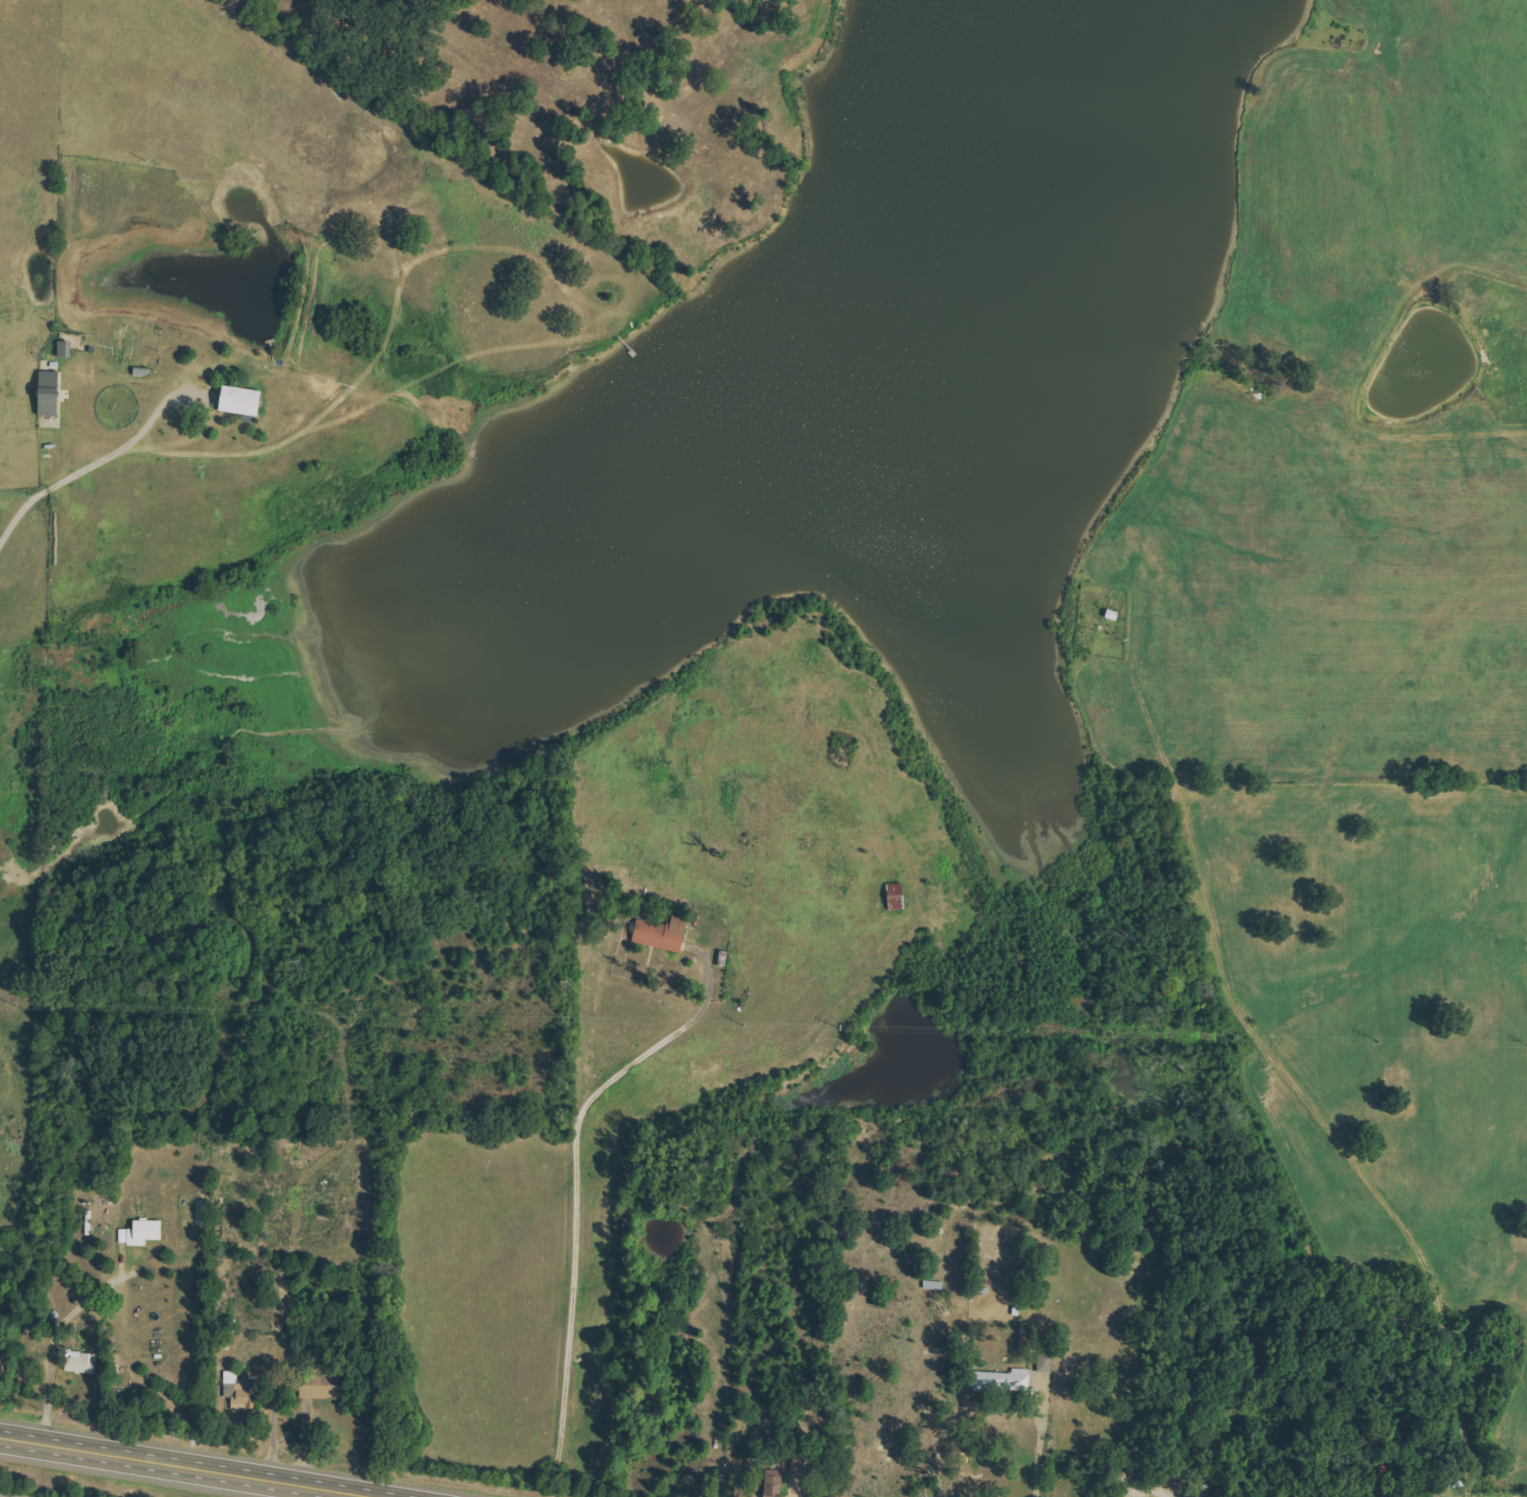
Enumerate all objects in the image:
power tower: (225, 1)
power tower: (137, 162)
power tower: (49, 326)
building: (52, 394)
building: (244, 401)
road: (96, 470)
building: (898, 897)
building: (665, 933)
road: (576, 1189)
building: (144, 1234)
road: (60, 1342)
building: (1032, 1342)
building: (84, 1364)
building: (1047, 1364)
building: (1006, 1382)
building: (322, 1387)
road: (1043, 1436)
road: (195, 1466)
building: (801, 1468)
building: (776, 1484)

